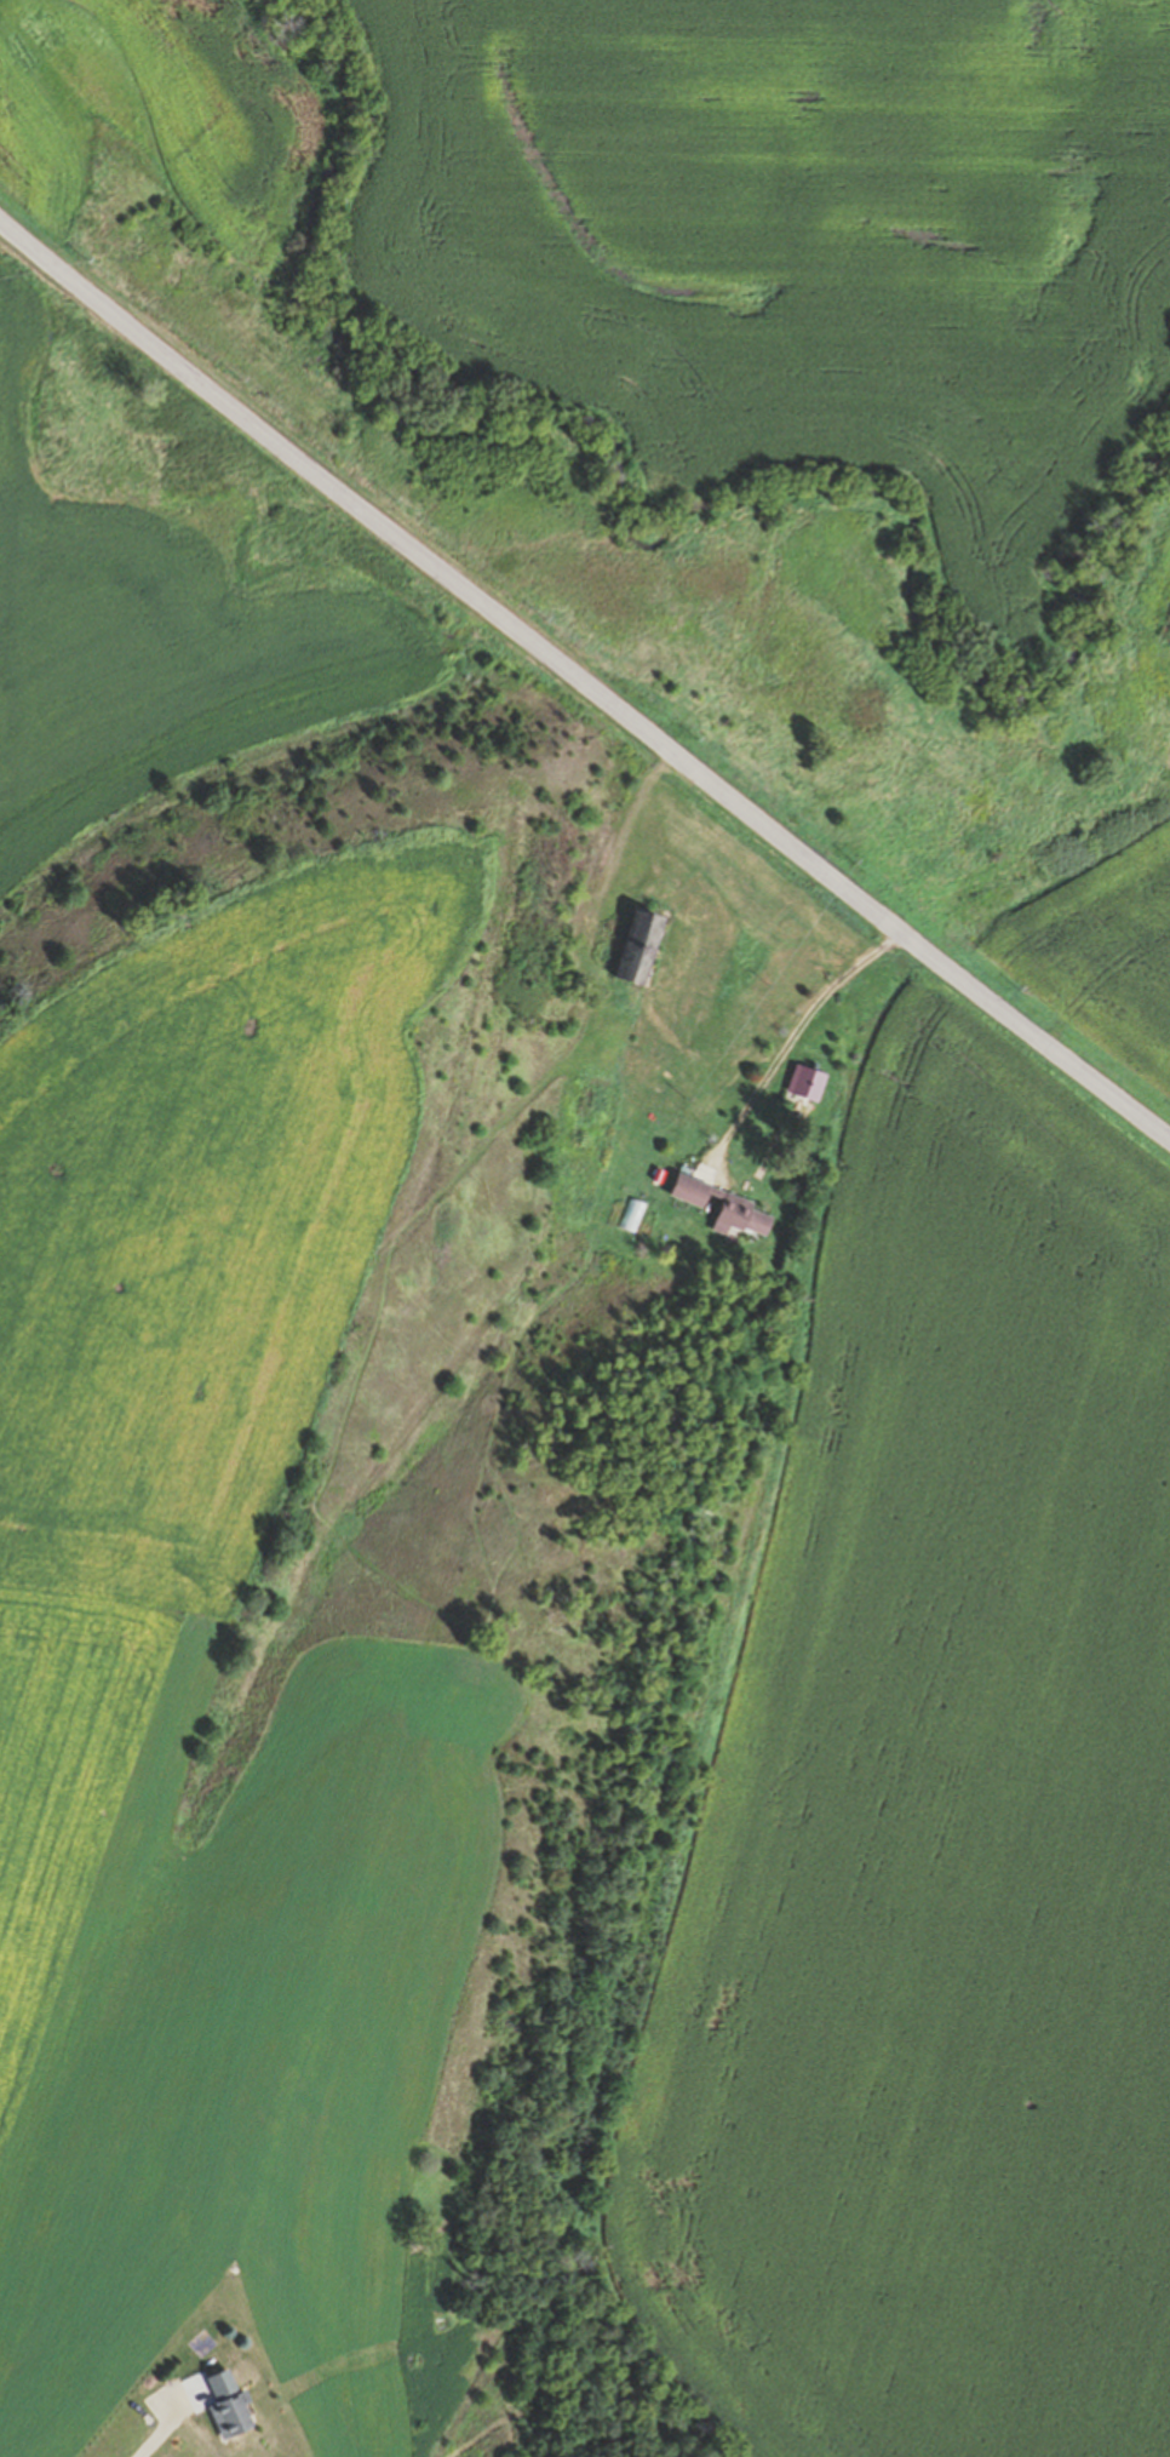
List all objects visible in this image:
road: (581, 682)
building: (648, 945)
road: (577, 1041)
road: (791, 1042)
building: (814, 1084)
building: (724, 1207)
building: (233, 2406)
road: (162, 2423)

